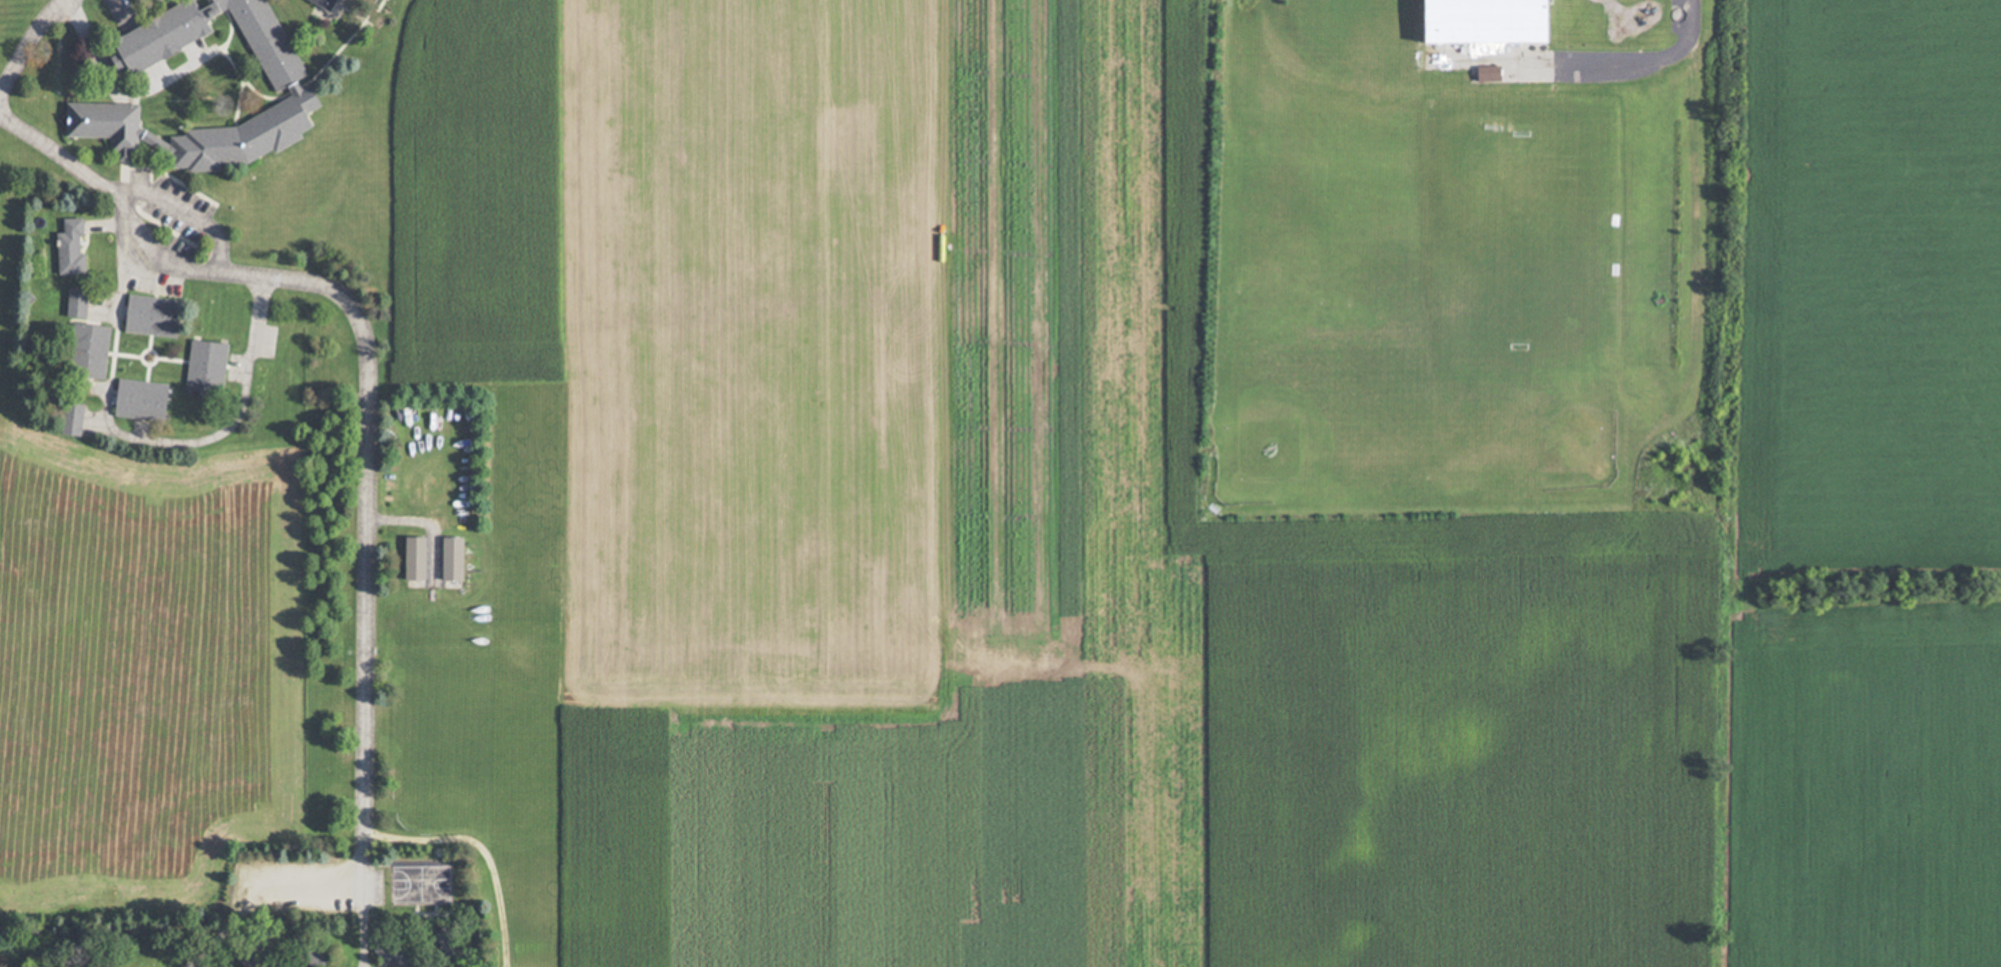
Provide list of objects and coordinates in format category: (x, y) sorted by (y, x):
building: (333, 2)
building: (1478, 22)
road: (28, 43)
road: (1622, 63)
building: (1482, 75)
building: (299, 91)
road: (188, 205)
building: (75, 247)
building: (80, 302)
building: (157, 316)
building: (91, 351)
building: (208, 367)
building: (145, 400)
road: (132, 442)
road: (371, 475)
building: (418, 557)
building: (455, 558)
road: (288, 882)
road: (359, 924)

